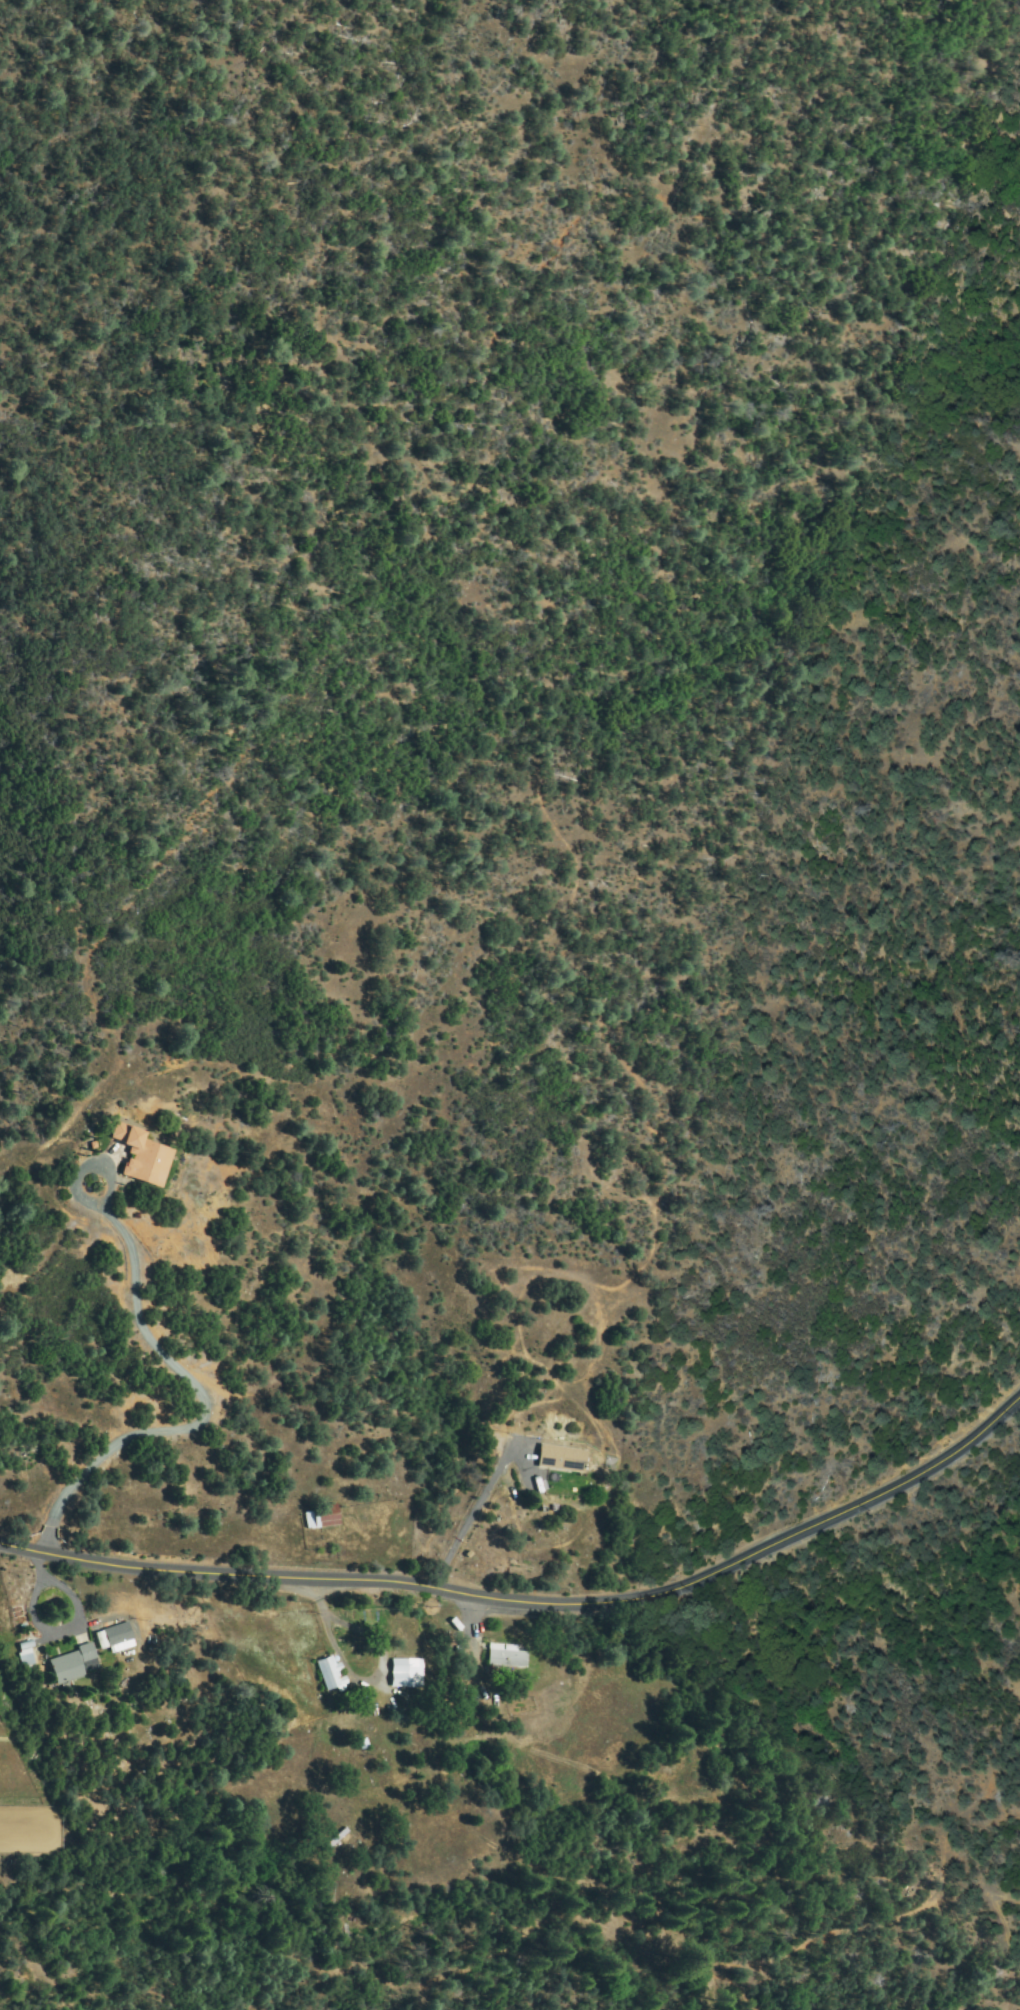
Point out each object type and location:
building: (143, 1156)
building: (562, 1458)
building: (323, 1515)
road: (534, 1608)
building: (119, 1637)
building: (507, 1658)
building: (26, 1659)
building: (77, 1660)
building: (406, 1673)
building: (330, 1674)
building: (363, 1744)

